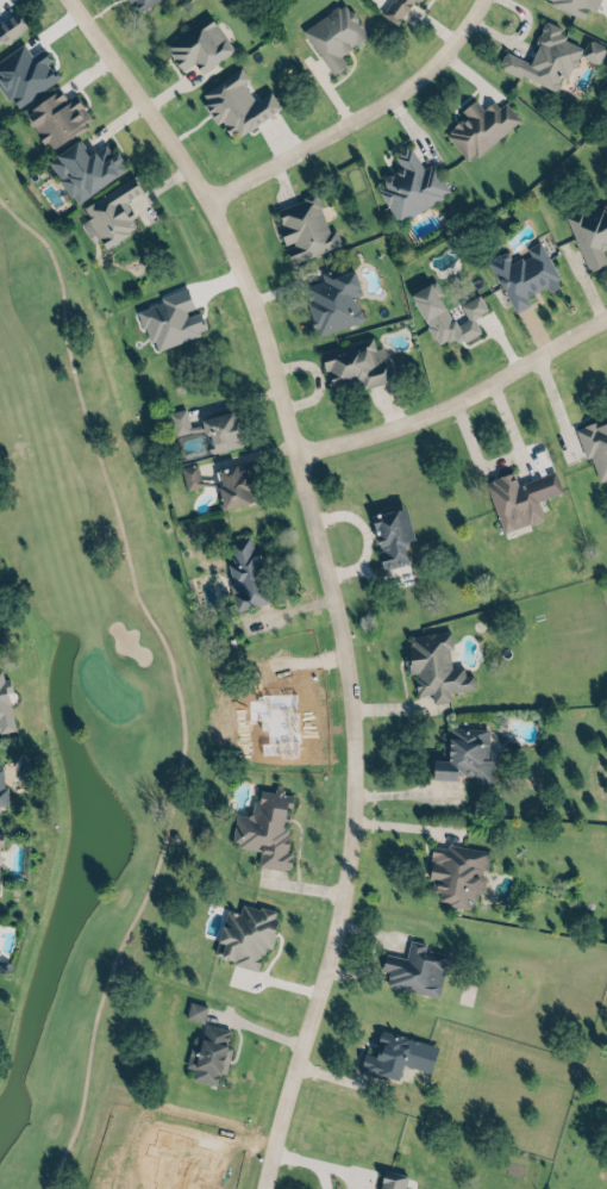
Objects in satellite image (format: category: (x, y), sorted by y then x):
building: (137, 4)
building: (150, 4)
building: (572, 5)
building: (403, 10)
building: (12, 33)
building: (332, 36)
building: (192, 45)
building: (589, 51)
building: (545, 58)
building: (23, 74)
building: (232, 105)
road: (364, 114)
building: (54, 118)
building: (477, 127)
building: (82, 169)
building: (408, 185)
building: (111, 211)
road: (221, 211)
building: (302, 226)
building: (589, 234)
building: (521, 274)
building: (331, 299)
building: (443, 315)
building: (168, 318)
road: (589, 324)
building: (349, 365)
road: (546, 405)
road: (436, 406)
building: (175, 421)
building: (218, 430)
building: (594, 443)
building: (188, 475)
building: (231, 484)
building: (517, 497)
building: (390, 535)
building: (244, 573)
building: (428, 666)
building: (4, 702)
building: (462, 754)
building: (0, 790)
road: (349, 826)
building: (263, 828)
building: (456, 874)
building: (240, 942)
building: (415, 966)
building: (193, 1011)
building: (202, 1053)
building: (387, 1057)
road: (302, 1160)
building: (386, 1182)

